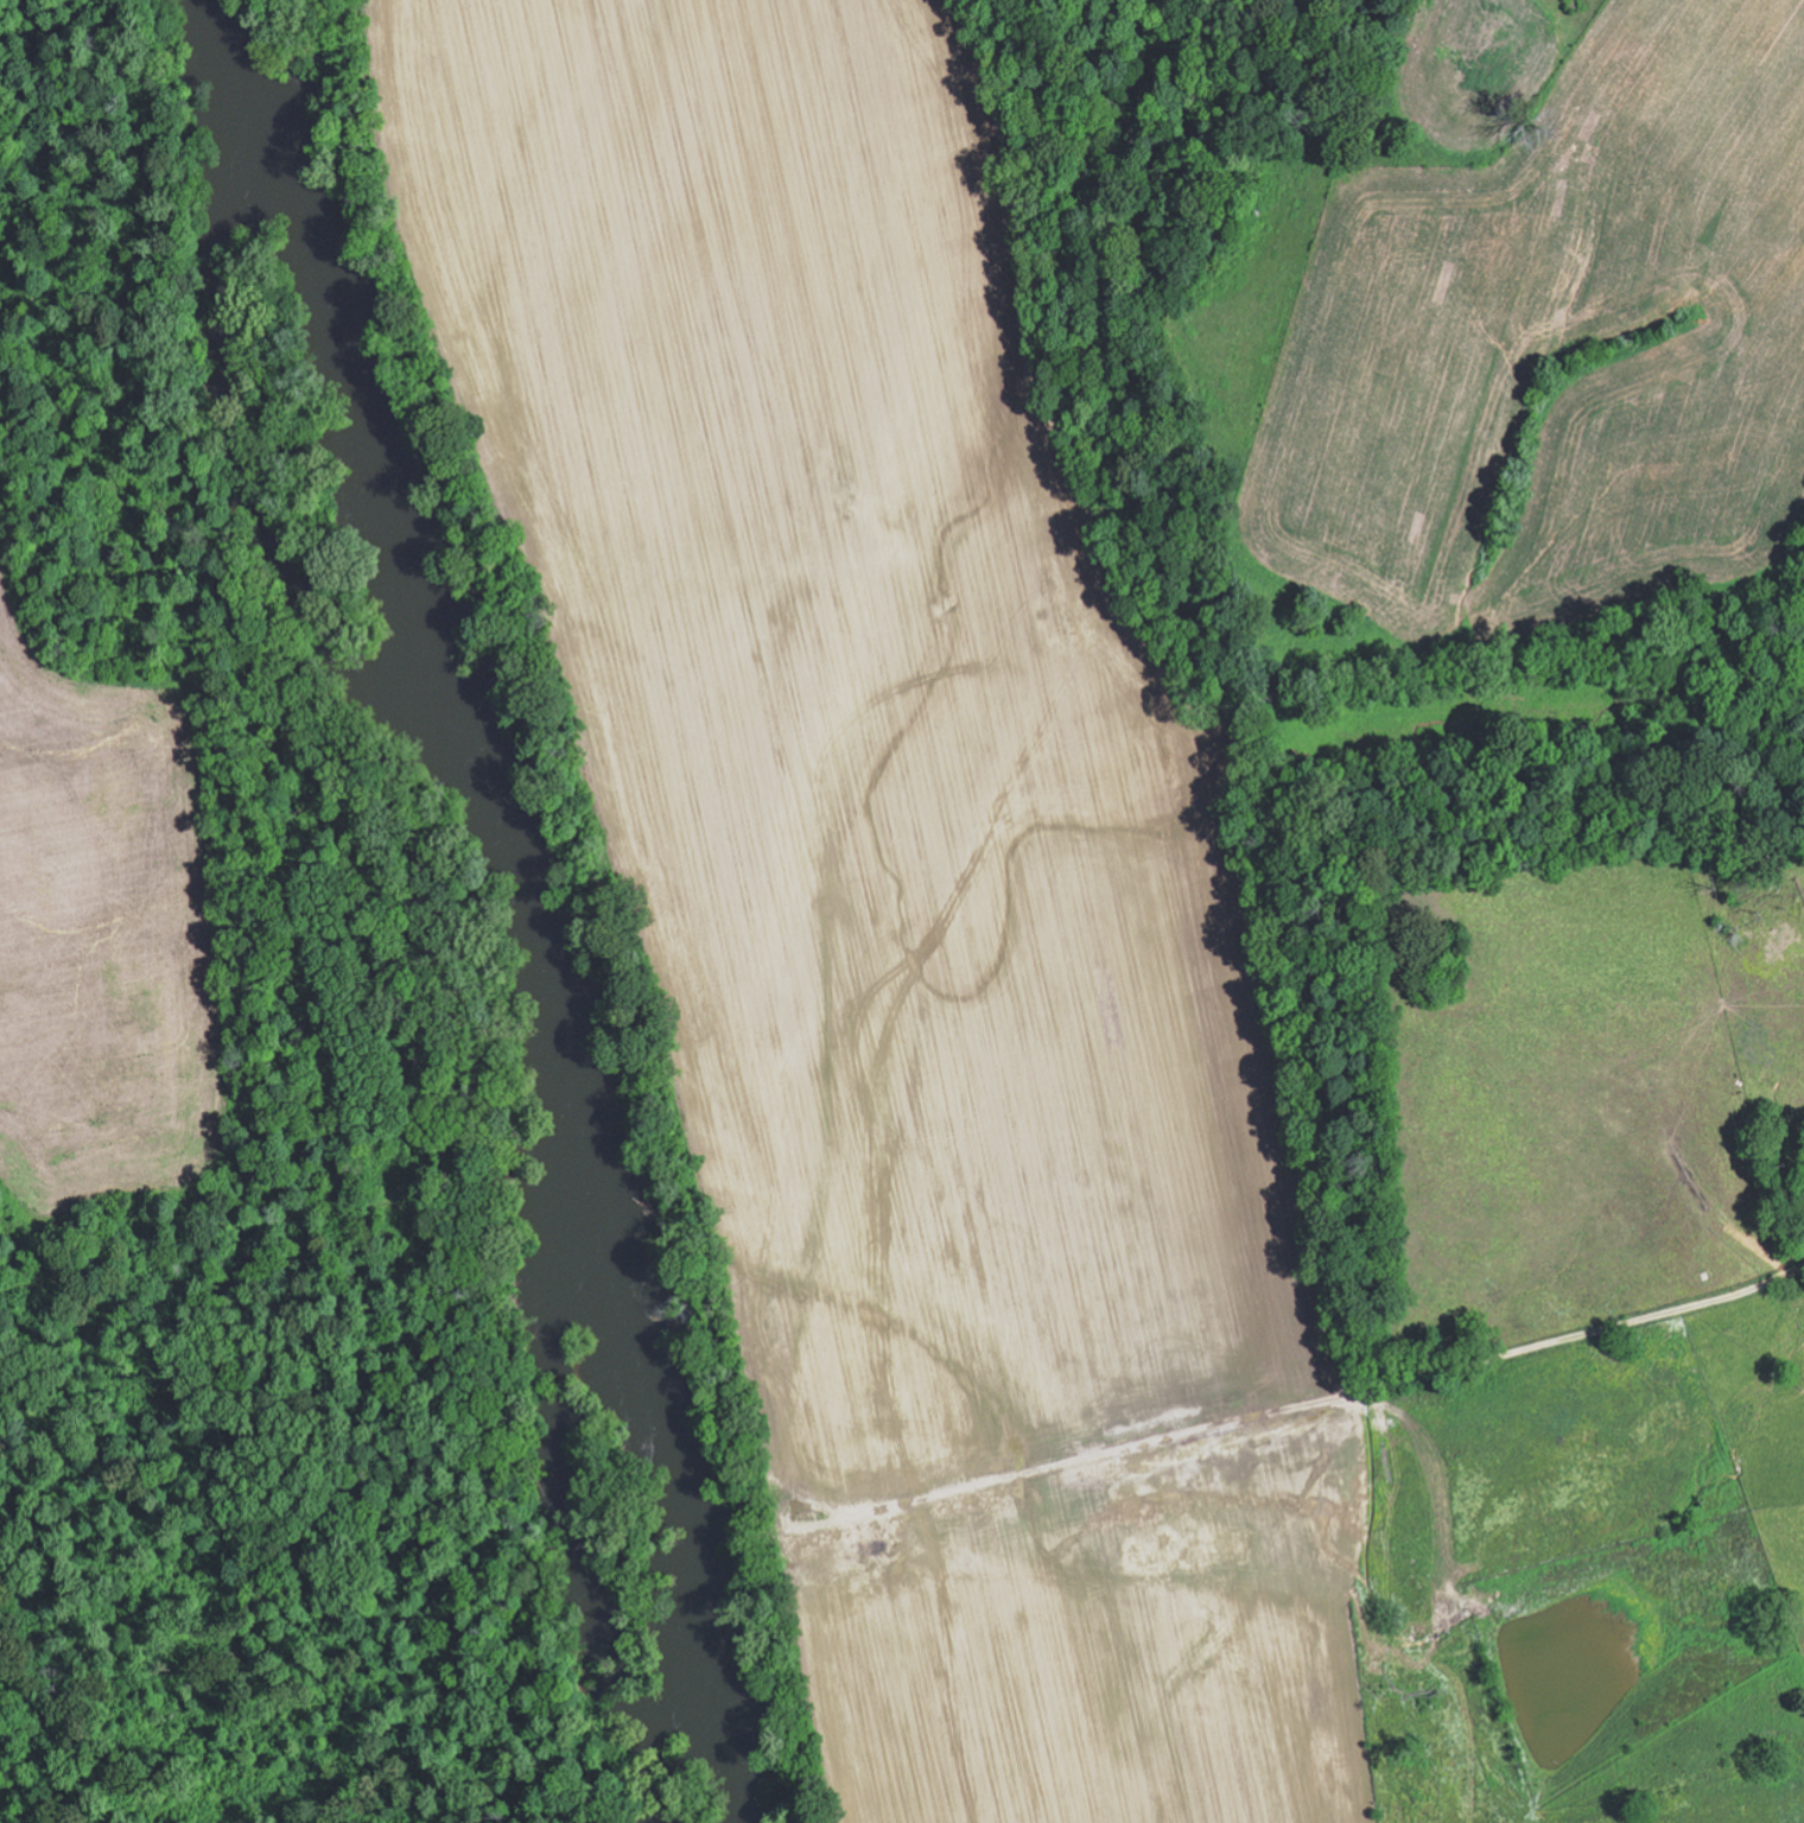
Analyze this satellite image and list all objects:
river: (485, 908)

